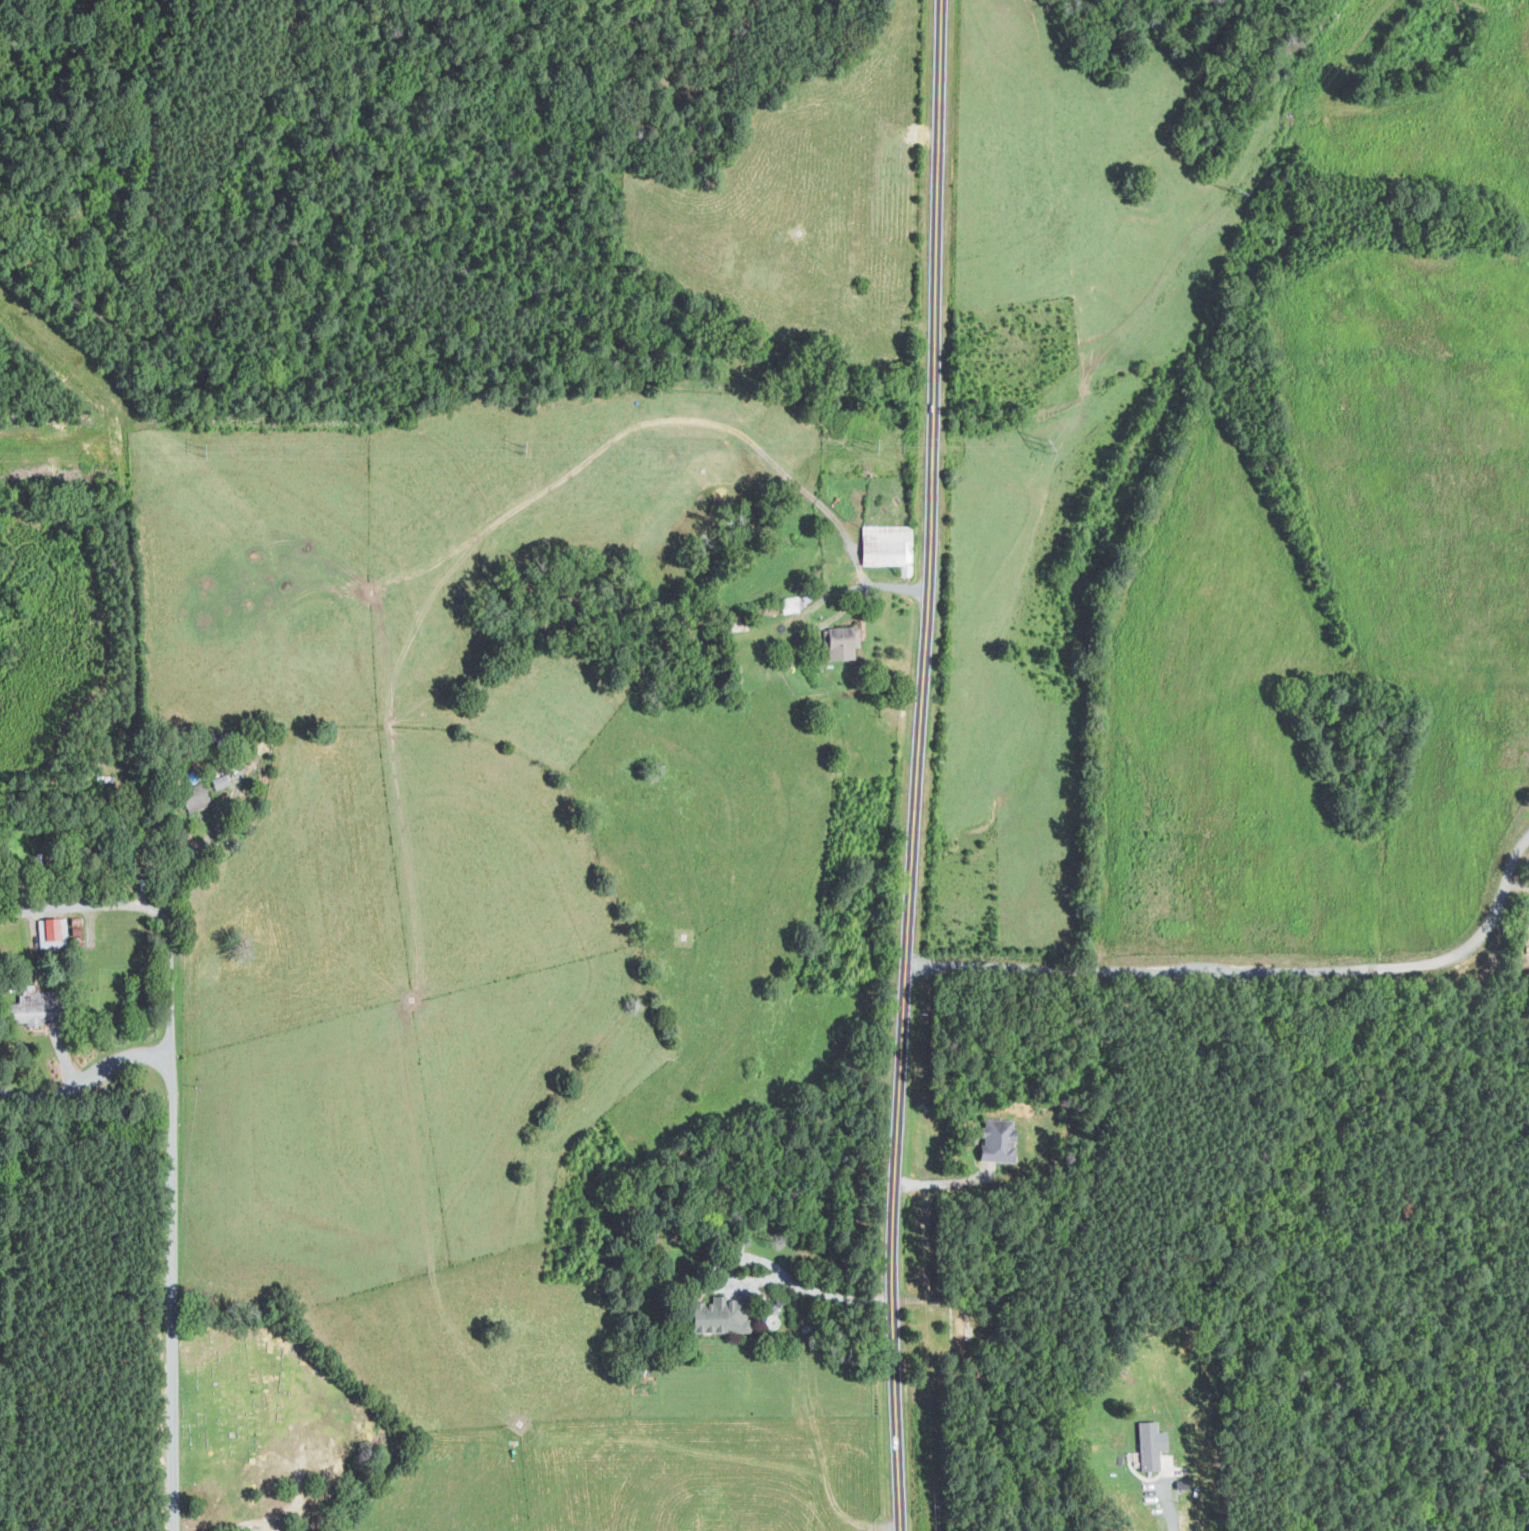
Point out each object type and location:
building: (890, 547)
building: (844, 643)
building: (241, 740)
road: (910, 765)
building: (223, 782)
building: (198, 796)
road: (211, 837)
road: (155, 908)
road: (1248, 966)
building: (34, 1009)
building: (1001, 1139)
road: (172, 1202)
road: (769, 1279)
building: (726, 1314)
building: (1154, 1444)
road: (1180, 1508)
road: (244, 1529)

